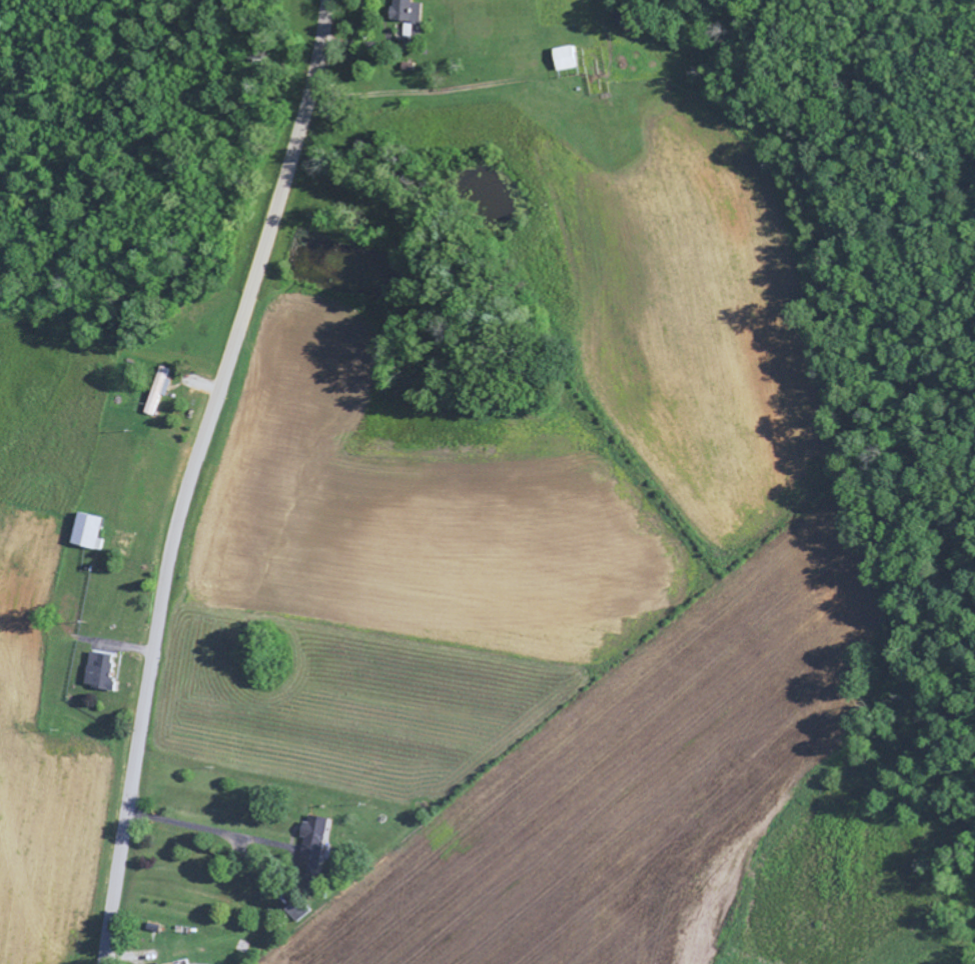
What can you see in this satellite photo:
building: (406, 10)
building: (160, 388)
road: (191, 476)
building: (87, 531)
building: (100, 670)
building: (317, 841)
building: (297, 909)
building: (183, 963)

